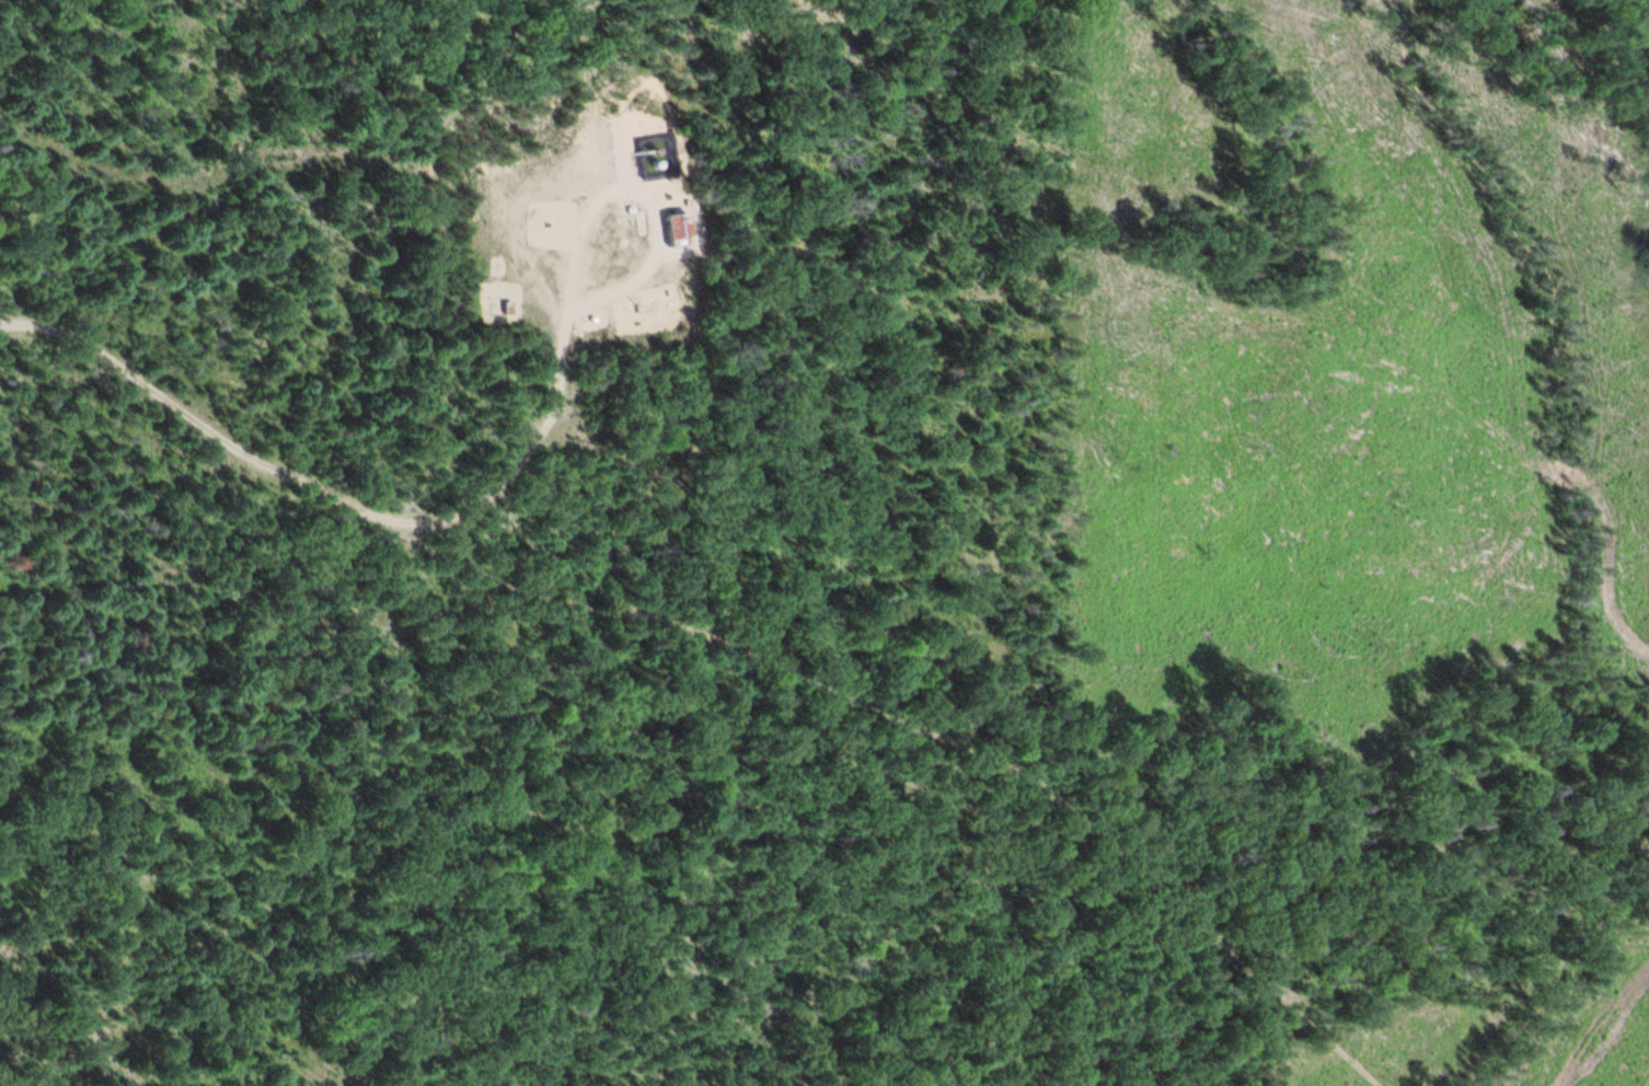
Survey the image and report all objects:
road: (641, 194)
building: (677, 227)
building: (505, 304)
road: (334, 495)
road: (1590, 540)

